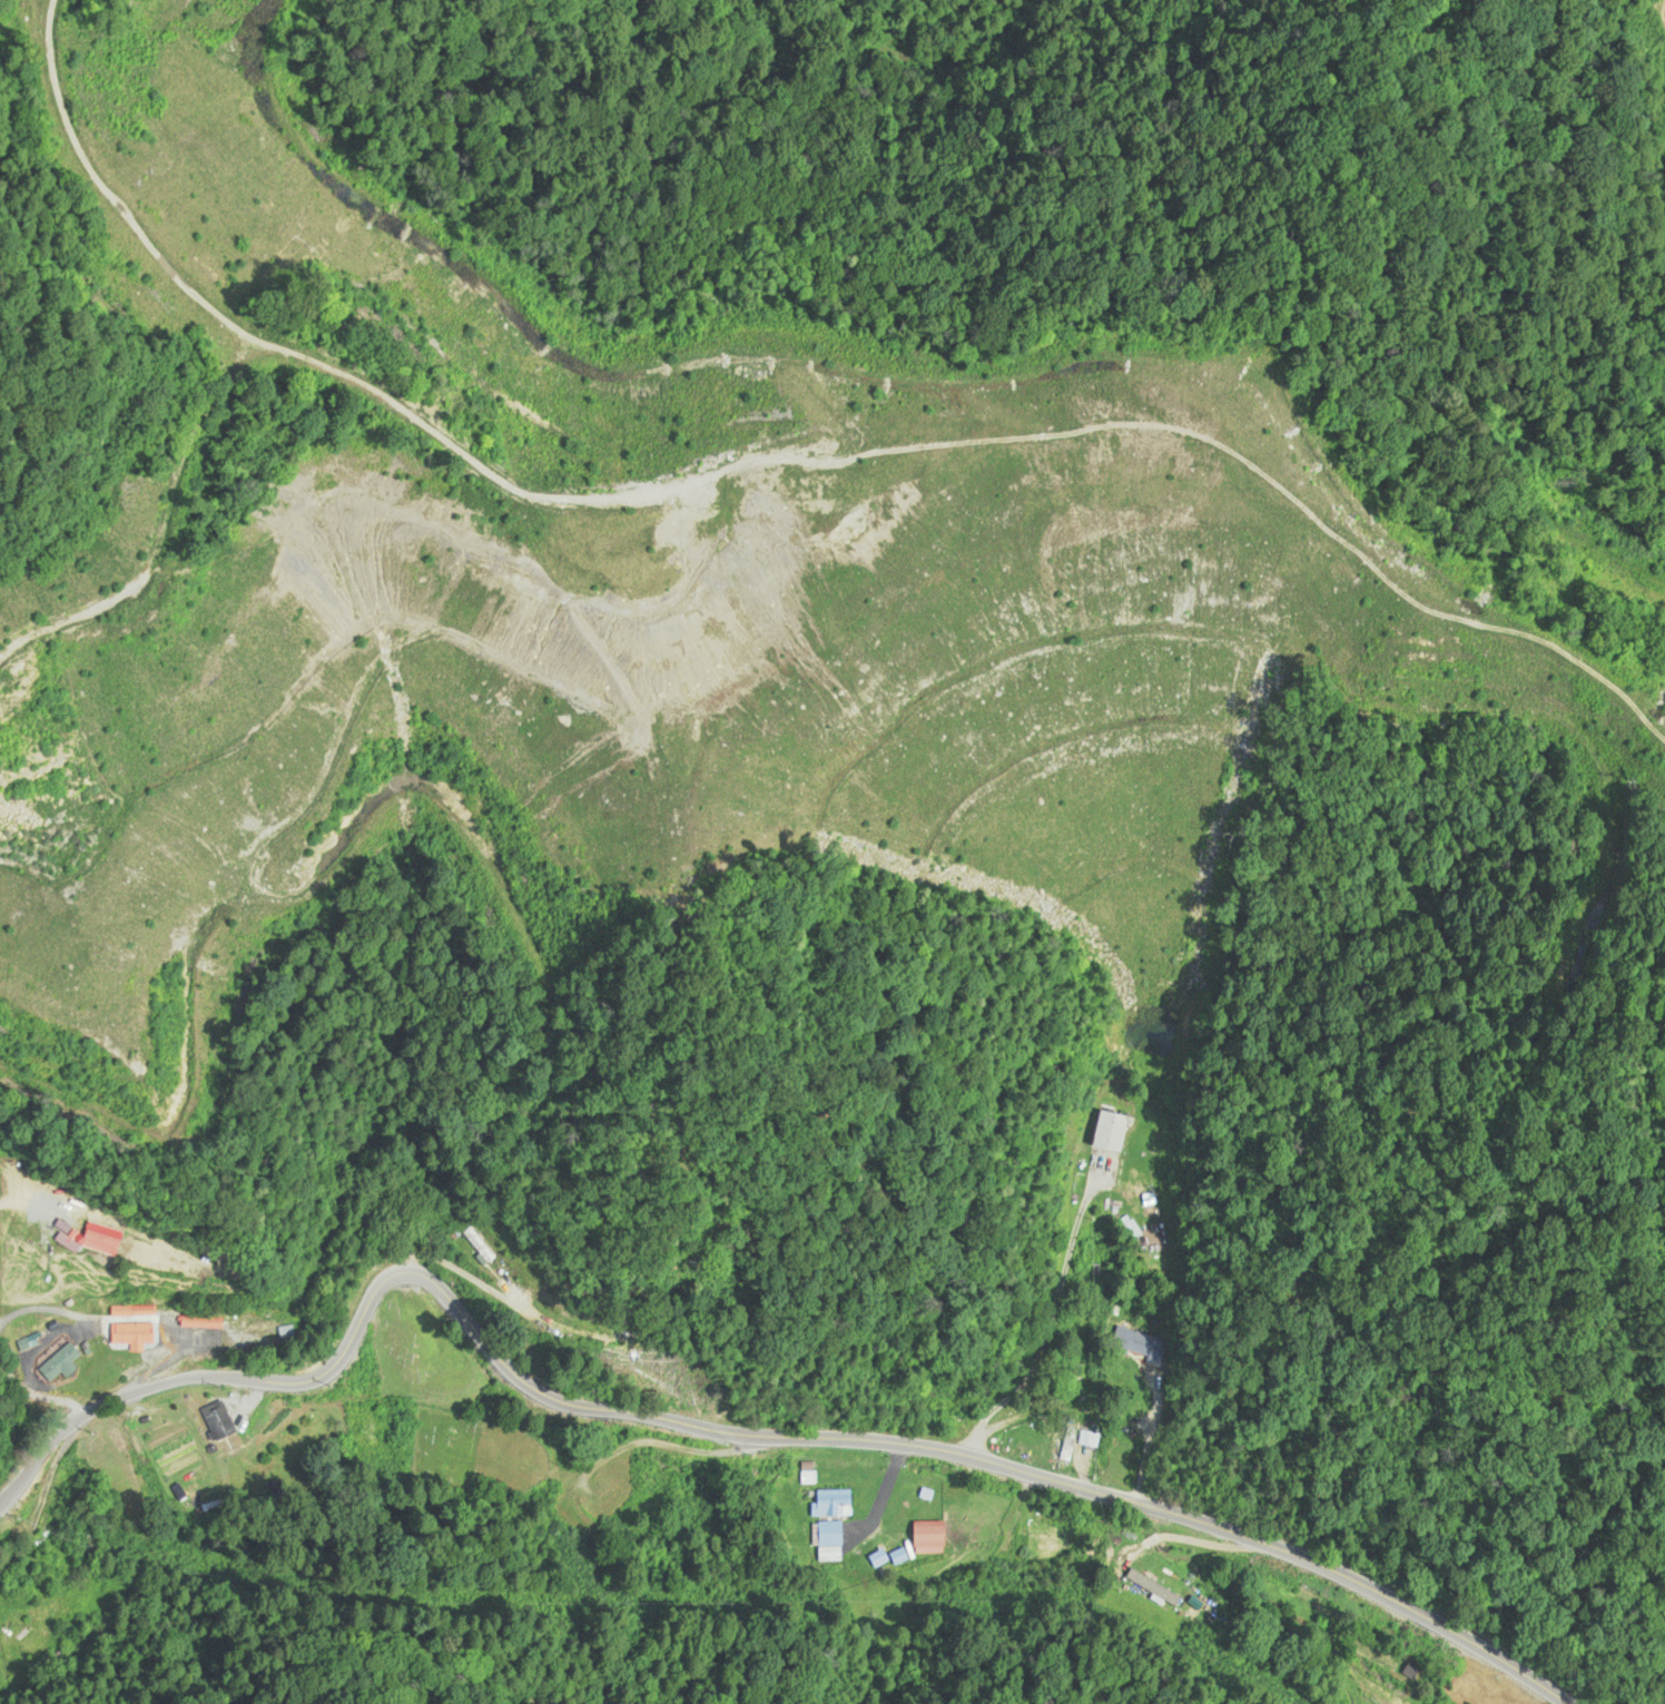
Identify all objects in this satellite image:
building: (1112, 1131)
building: (96, 1239)
building: (116, 1311)
building: (136, 1334)
building: (1133, 1341)
building: (63, 1362)
park: (454, 1406)
building: (221, 1425)
road: (731, 1435)
building: (910, 1488)
building: (835, 1504)
building: (932, 1538)
building: (829, 1542)
building: (885, 1557)
building: (1149, 1586)

